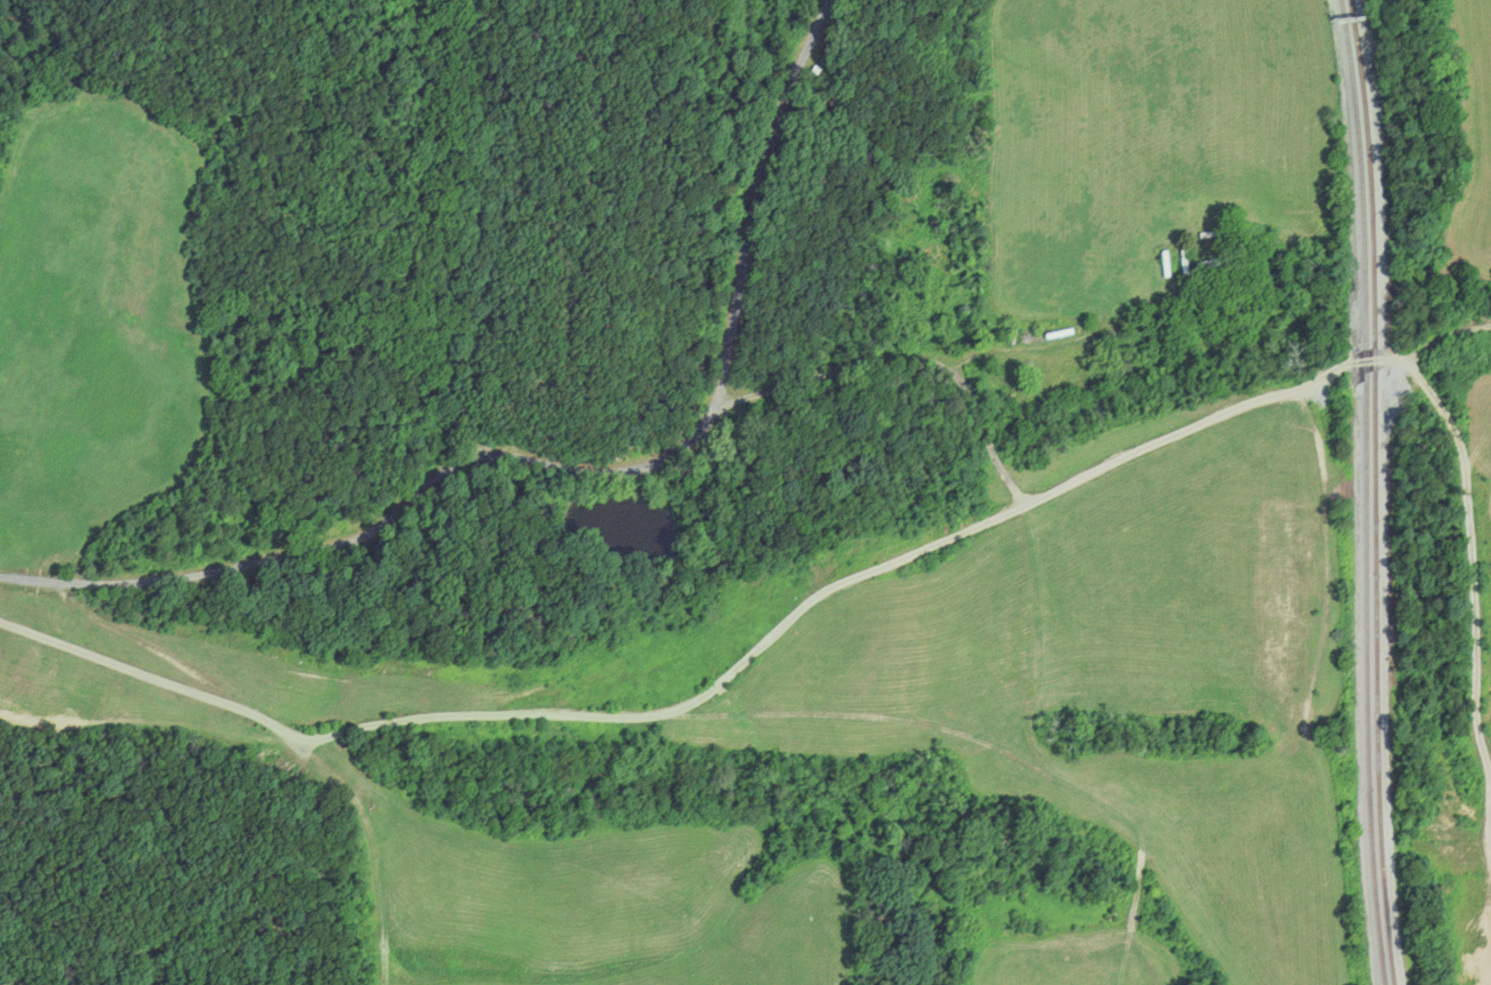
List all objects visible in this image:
railway: (1367, 492)
railway: (1376, 492)

